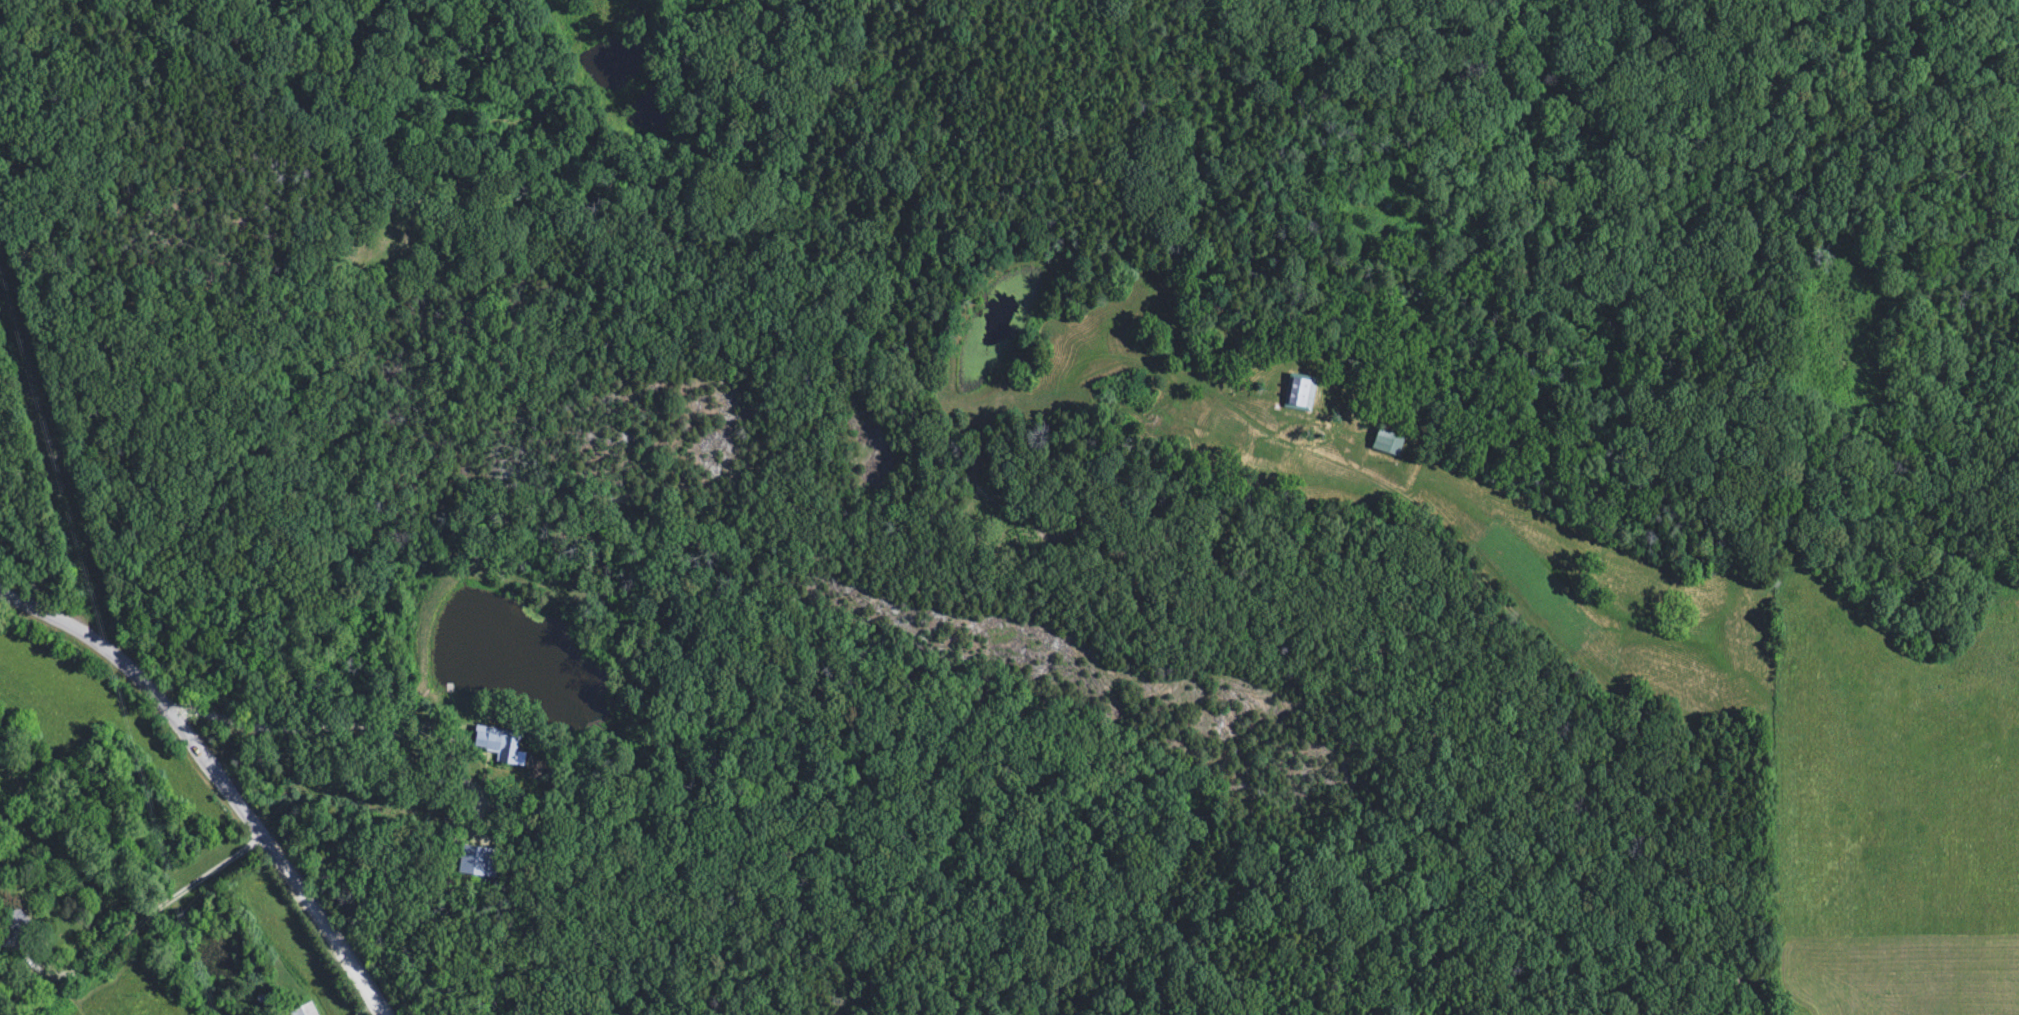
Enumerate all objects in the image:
building: (1299, 393)
building: (1385, 443)
road: (1765, 588)
road: (167, 711)
road: (355, 723)
building: (498, 745)
building: (477, 862)
building: (15, 932)
road: (341, 945)
building: (302, 1010)

